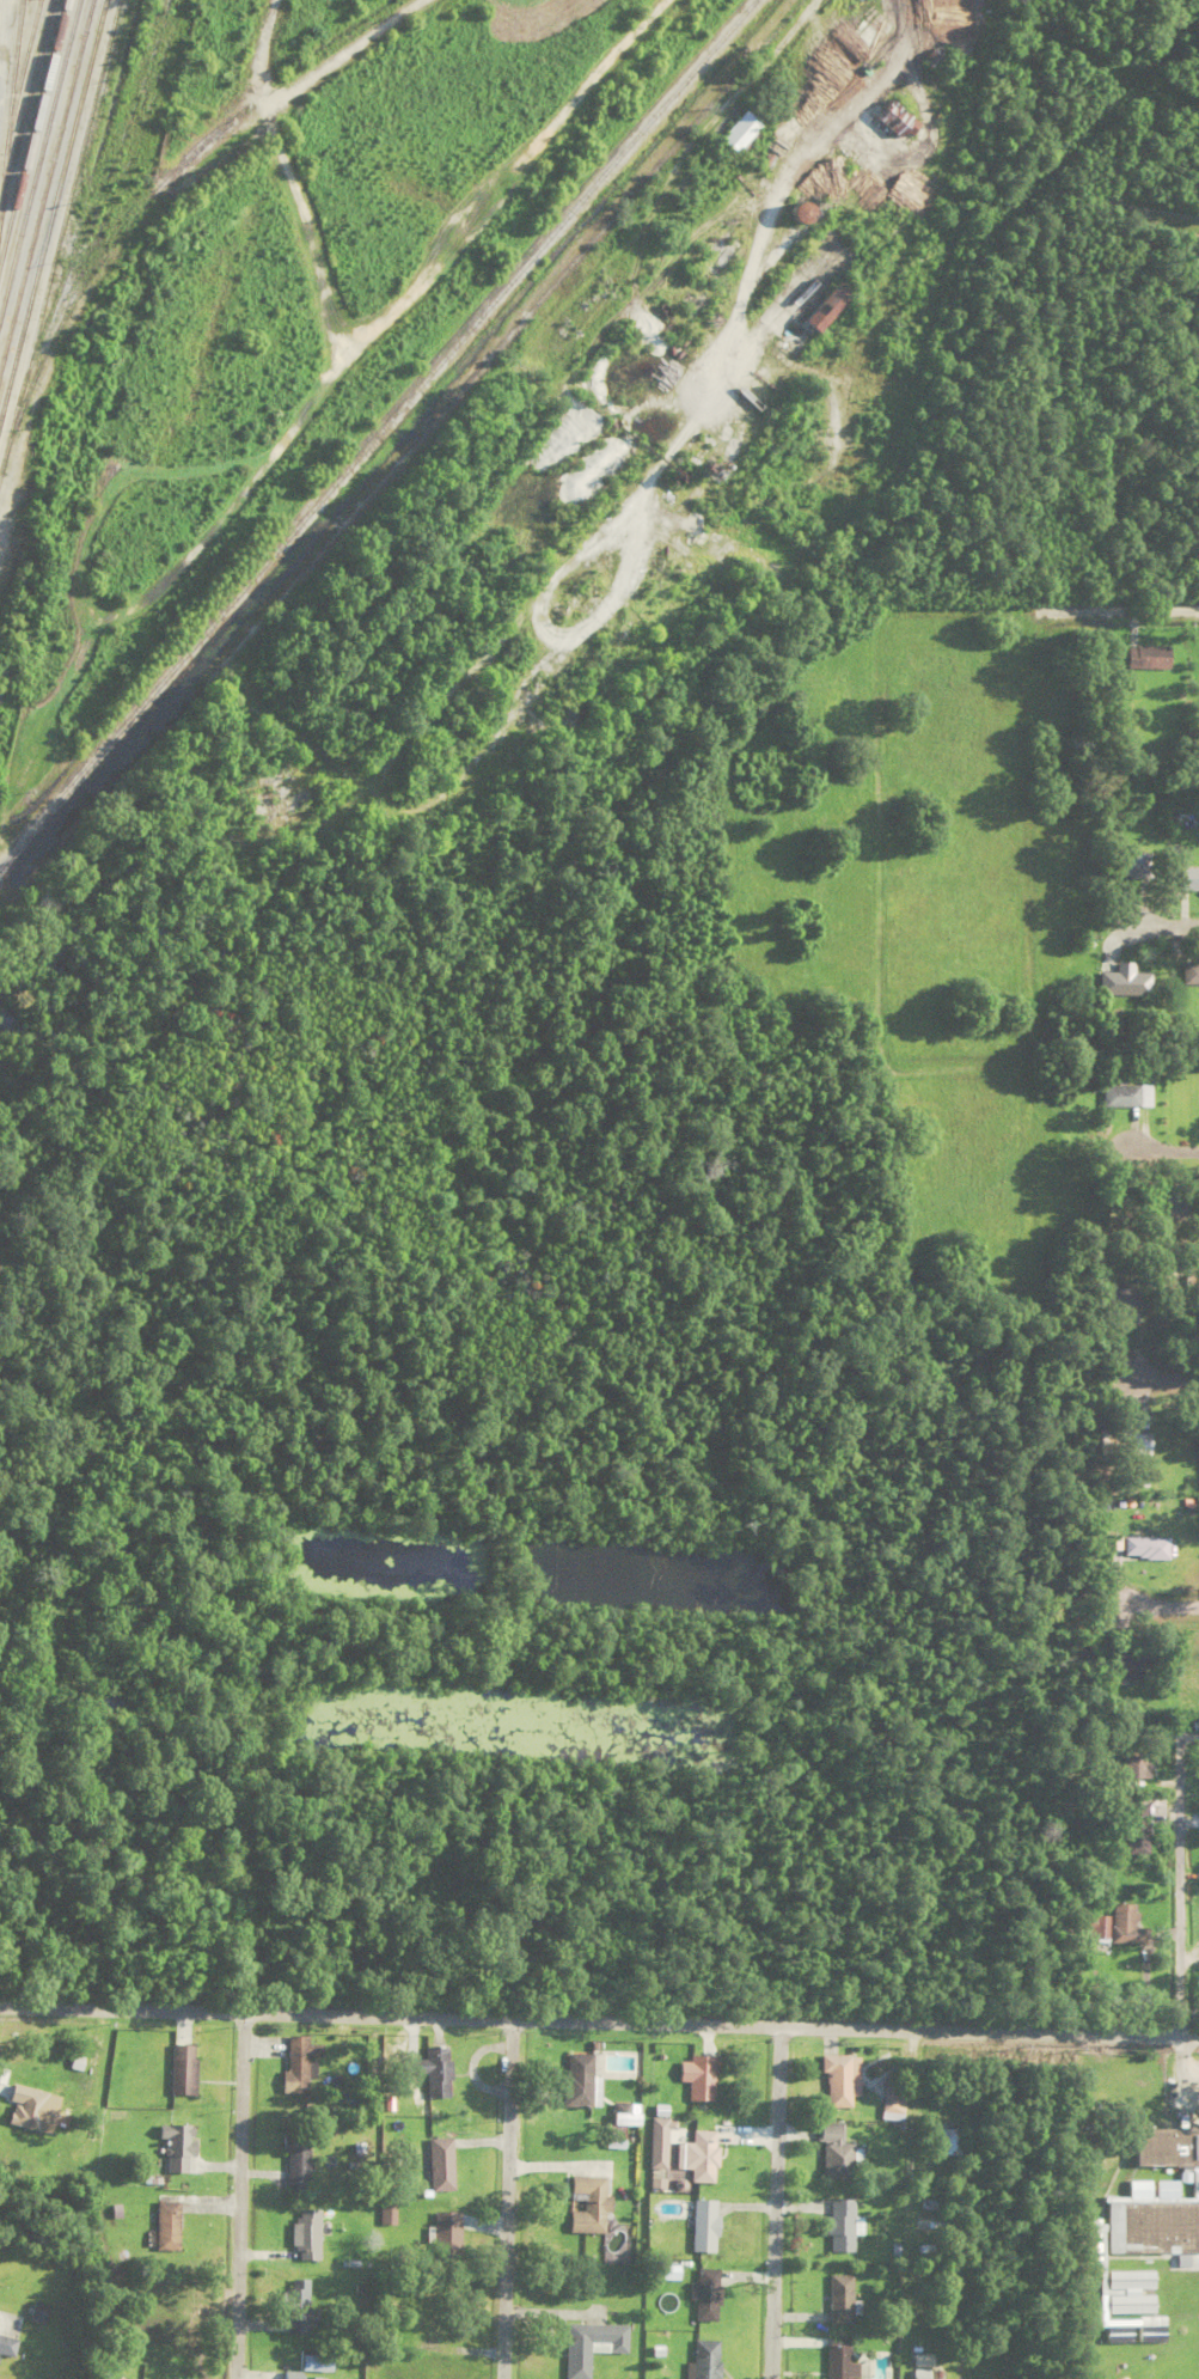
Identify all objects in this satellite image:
railway: (20, 77)
railway: (10, 100)
railway: (25, 110)
railway: (31, 128)
railway: (38, 159)
road: (668, 169)
road: (227, 183)
railway: (44, 196)
railway: (53, 207)
railway: (59, 234)
railway: (377, 433)
road: (1134, 608)
road: (1162, 920)
road: (1167, 1148)
road: (1169, 1377)
road: (1167, 1605)
road: (1175, 1896)
road: (599, 2017)
road: (239, 2194)
road: (504, 2197)
road: (777, 2201)

